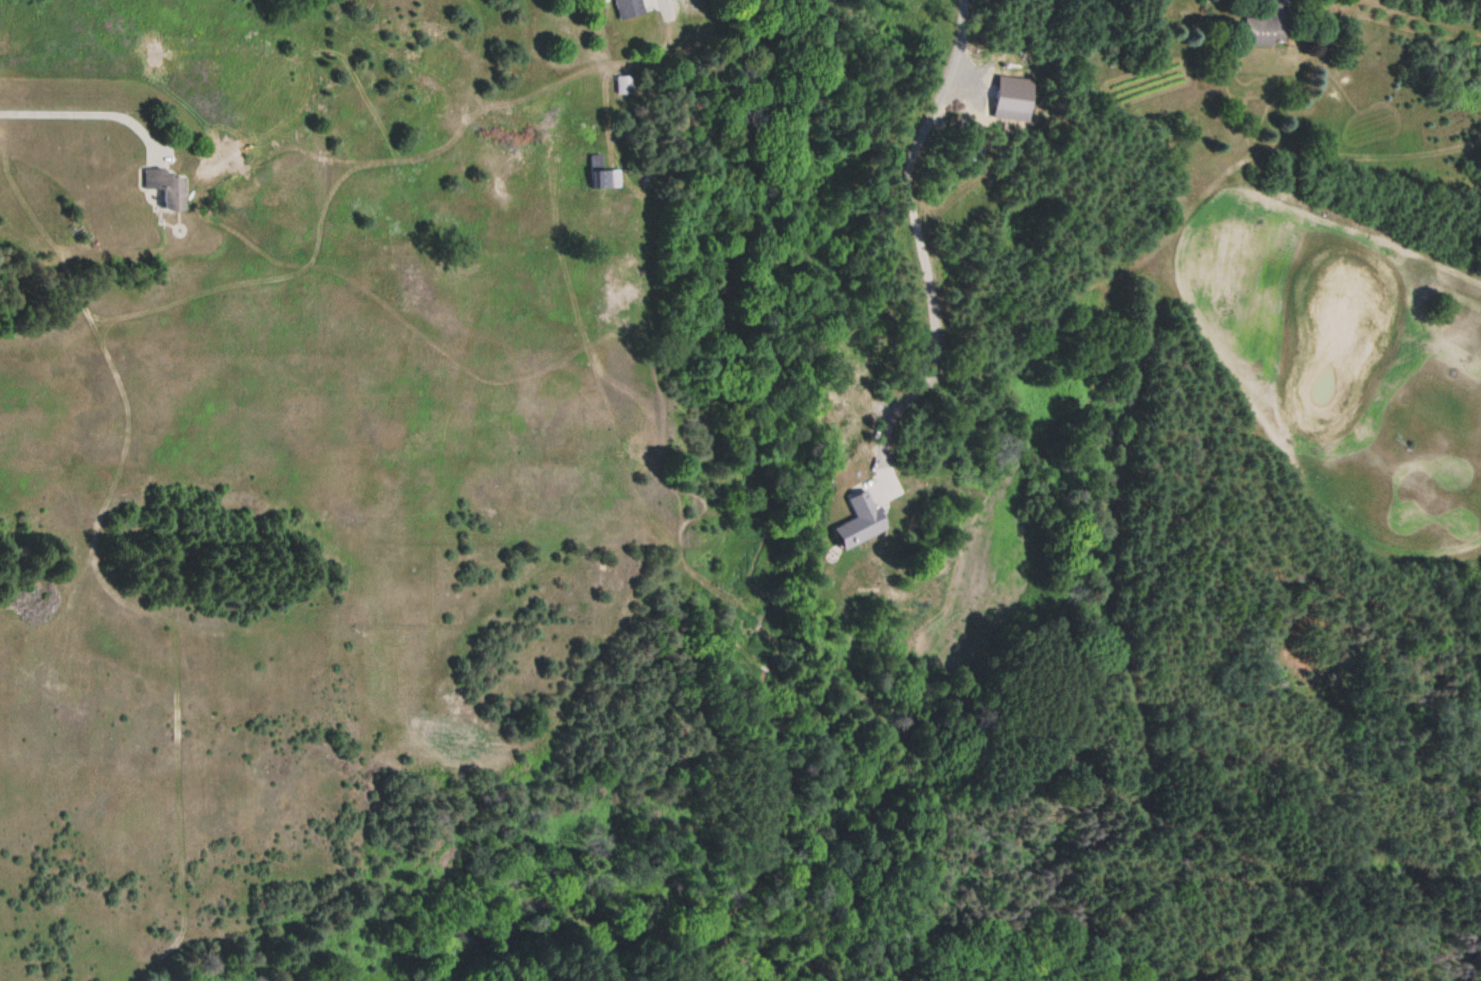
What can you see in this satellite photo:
building: (627, 7)
building: (1265, 28)
building: (601, 172)
building: (165, 185)

